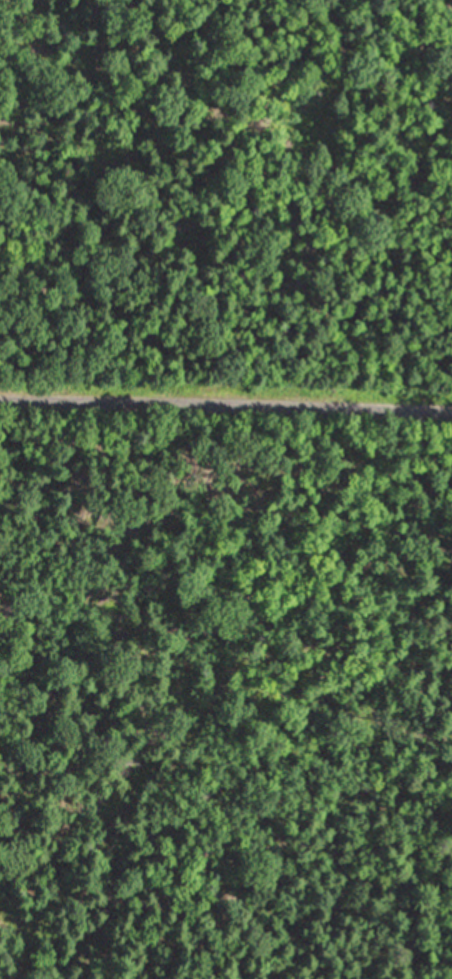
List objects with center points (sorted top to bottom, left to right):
road: (226, 383)

